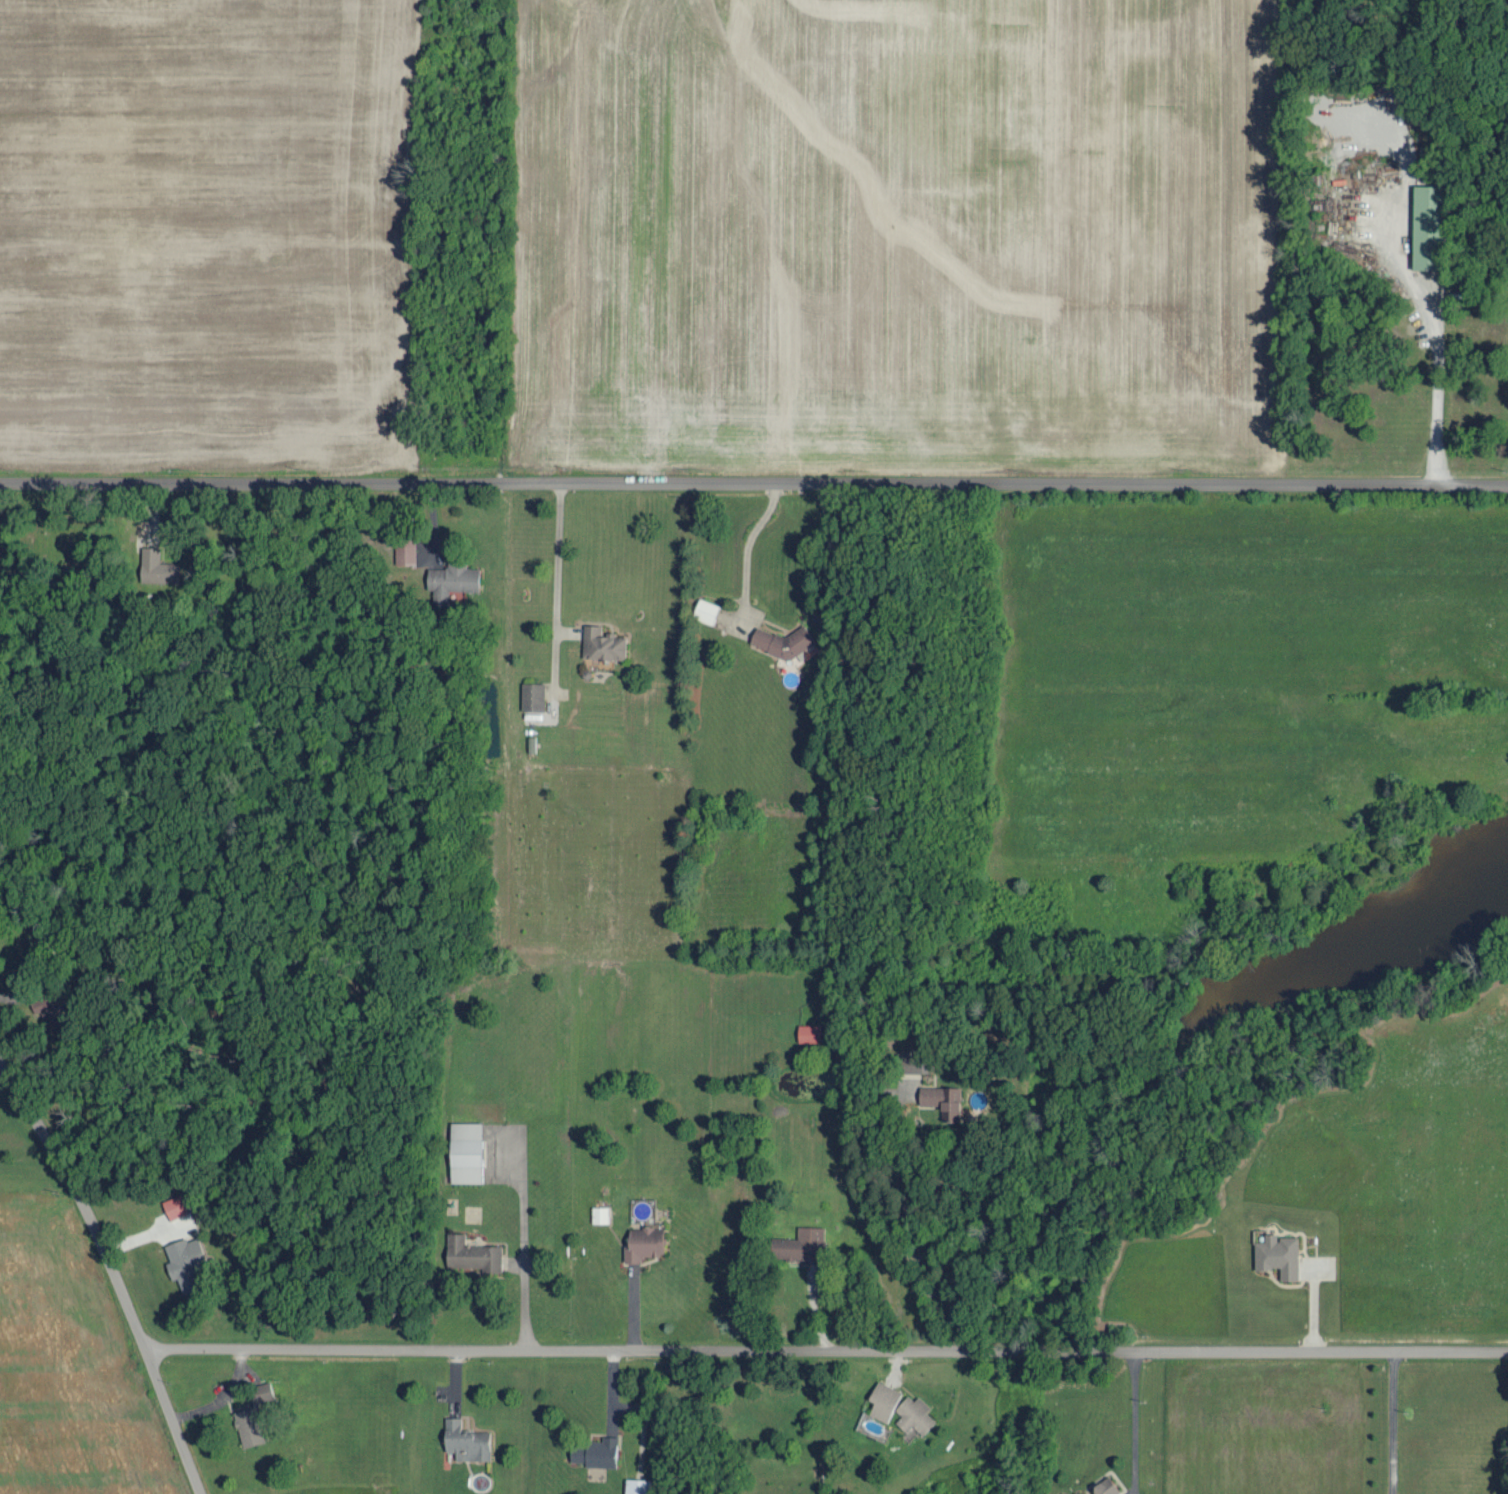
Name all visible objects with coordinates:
building: (1427, 226)
road: (754, 480)
building: (405, 549)
building: (156, 566)
building: (451, 580)
building: (705, 609)
building: (781, 640)
building: (602, 643)
building: (532, 695)
building: (45, 1004)
building: (809, 1030)
building: (914, 1062)
building: (941, 1097)
building: (465, 1150)
building: (174, 1205)
building: (599, 1212)
building: (643, 1241)
building: (799, 1242)
building: (472, 1252)
building: (1278, 1253)
building: (185, 1260)
road: (113, 1272)
road: (824, 1348)
building: (263, 1389)
building: (883, 1399)
building: (914, 1412)
road: (1133, 1421)
building: (247, 1424)
building: (465, 1439)
building: (595, 1450)
building: (636, 1485)
building: (1101, 1487)

